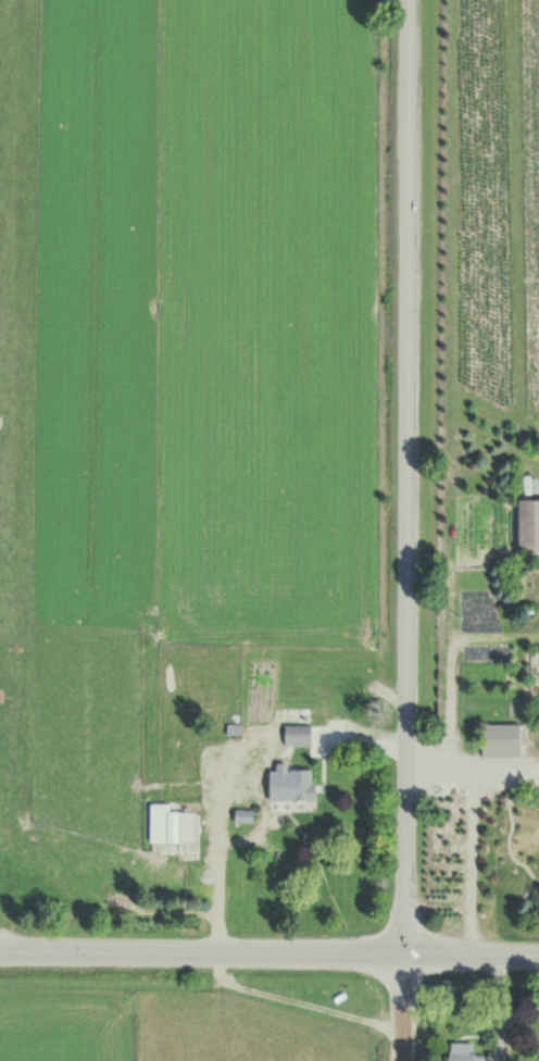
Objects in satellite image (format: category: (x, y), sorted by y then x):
road: (404, 477)
building: (528, 524)
building: (298, 736)
building: (501, 740)
building: (299, 786)
building: (243, 817)
building: (171, 825)
building: (487, 915)
road: (268, 952)
road: (402, 1008)
building: (462, 1051)

